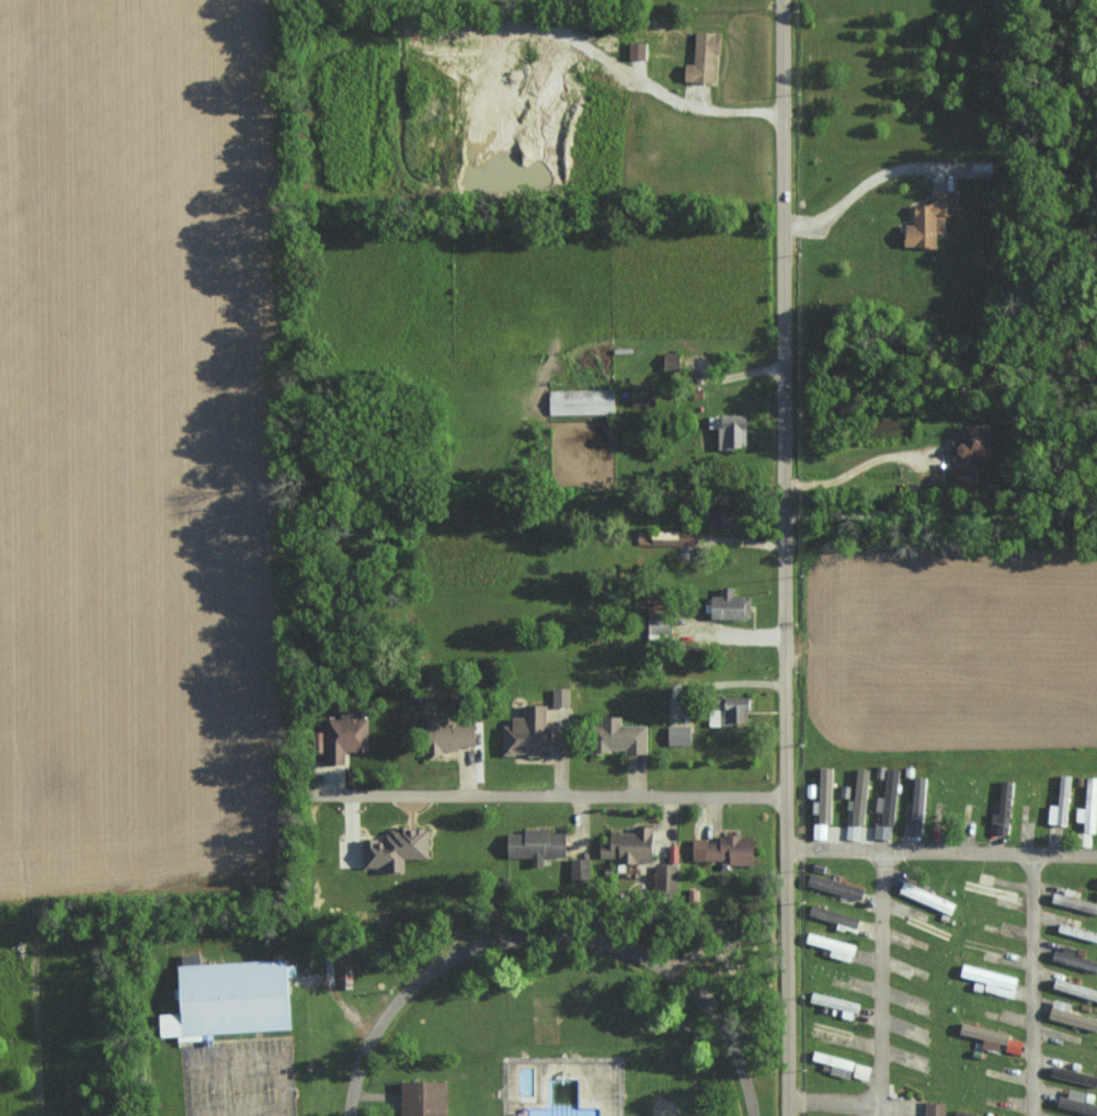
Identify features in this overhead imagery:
building: (639, 50)
building: (706, 57)
road: (864, 190)
building: (925, 220)
road: (784, 248)
building: (674, 361)
building: (642, 397)
building: (583, 401)
building: (729, 430)
building: (968, 453)
road: (853, 468)
road: (940, 511)
building: (675, 537)
building: (732, 604)
building: (733, 710)
building: (530, 731)
building: (347, 734)
building: (449, 734)
building: (624, 734)
building: (681, 734)
road: (557, 788)
building: (826, 795)
building: (860, 796)
building: (918, 804)
building: (1056, 804)
building: (1086, 805)
road: (784, 806)
building: (888, 806)
building: (999, 808)
building: (821, 830)
building: (852, 831)
building: (538, 844)
building: (632, 844)
building: (399, 847)
building: (728, 849)
road: (832, 852)
building: (581, 868)
building: (667, 876)
road: (881, 876)
building: (836, 886)
building: (929, 897)
road: (550, 940)
building: (836, 945)
building: (1076, 959)
road: (731, 971)
building: (343, 977)
building: (995, 979)
road: (1030, 987)
building: (1076, 988)
building: (226, 1000)
building: (1072, 1014)
park: (519, 1028)
park: (544, 1029)
building: (989, 1035)
building: (1016, 1045)
road: (504, 1060)
building: (837, 1062)
road: (254, 1067)
building: (862, 1071)
road: (226, 1073)
building: (1074, 1074)
parking lot: (239, 1079)
road: (375, 1097)
building: (421, 1100)
building: (1077, 1102)
road: (833, 1107)
park: (663, 1108)
building: (936, 1108)
road: (256, 1111)
road: (208, 1113)

